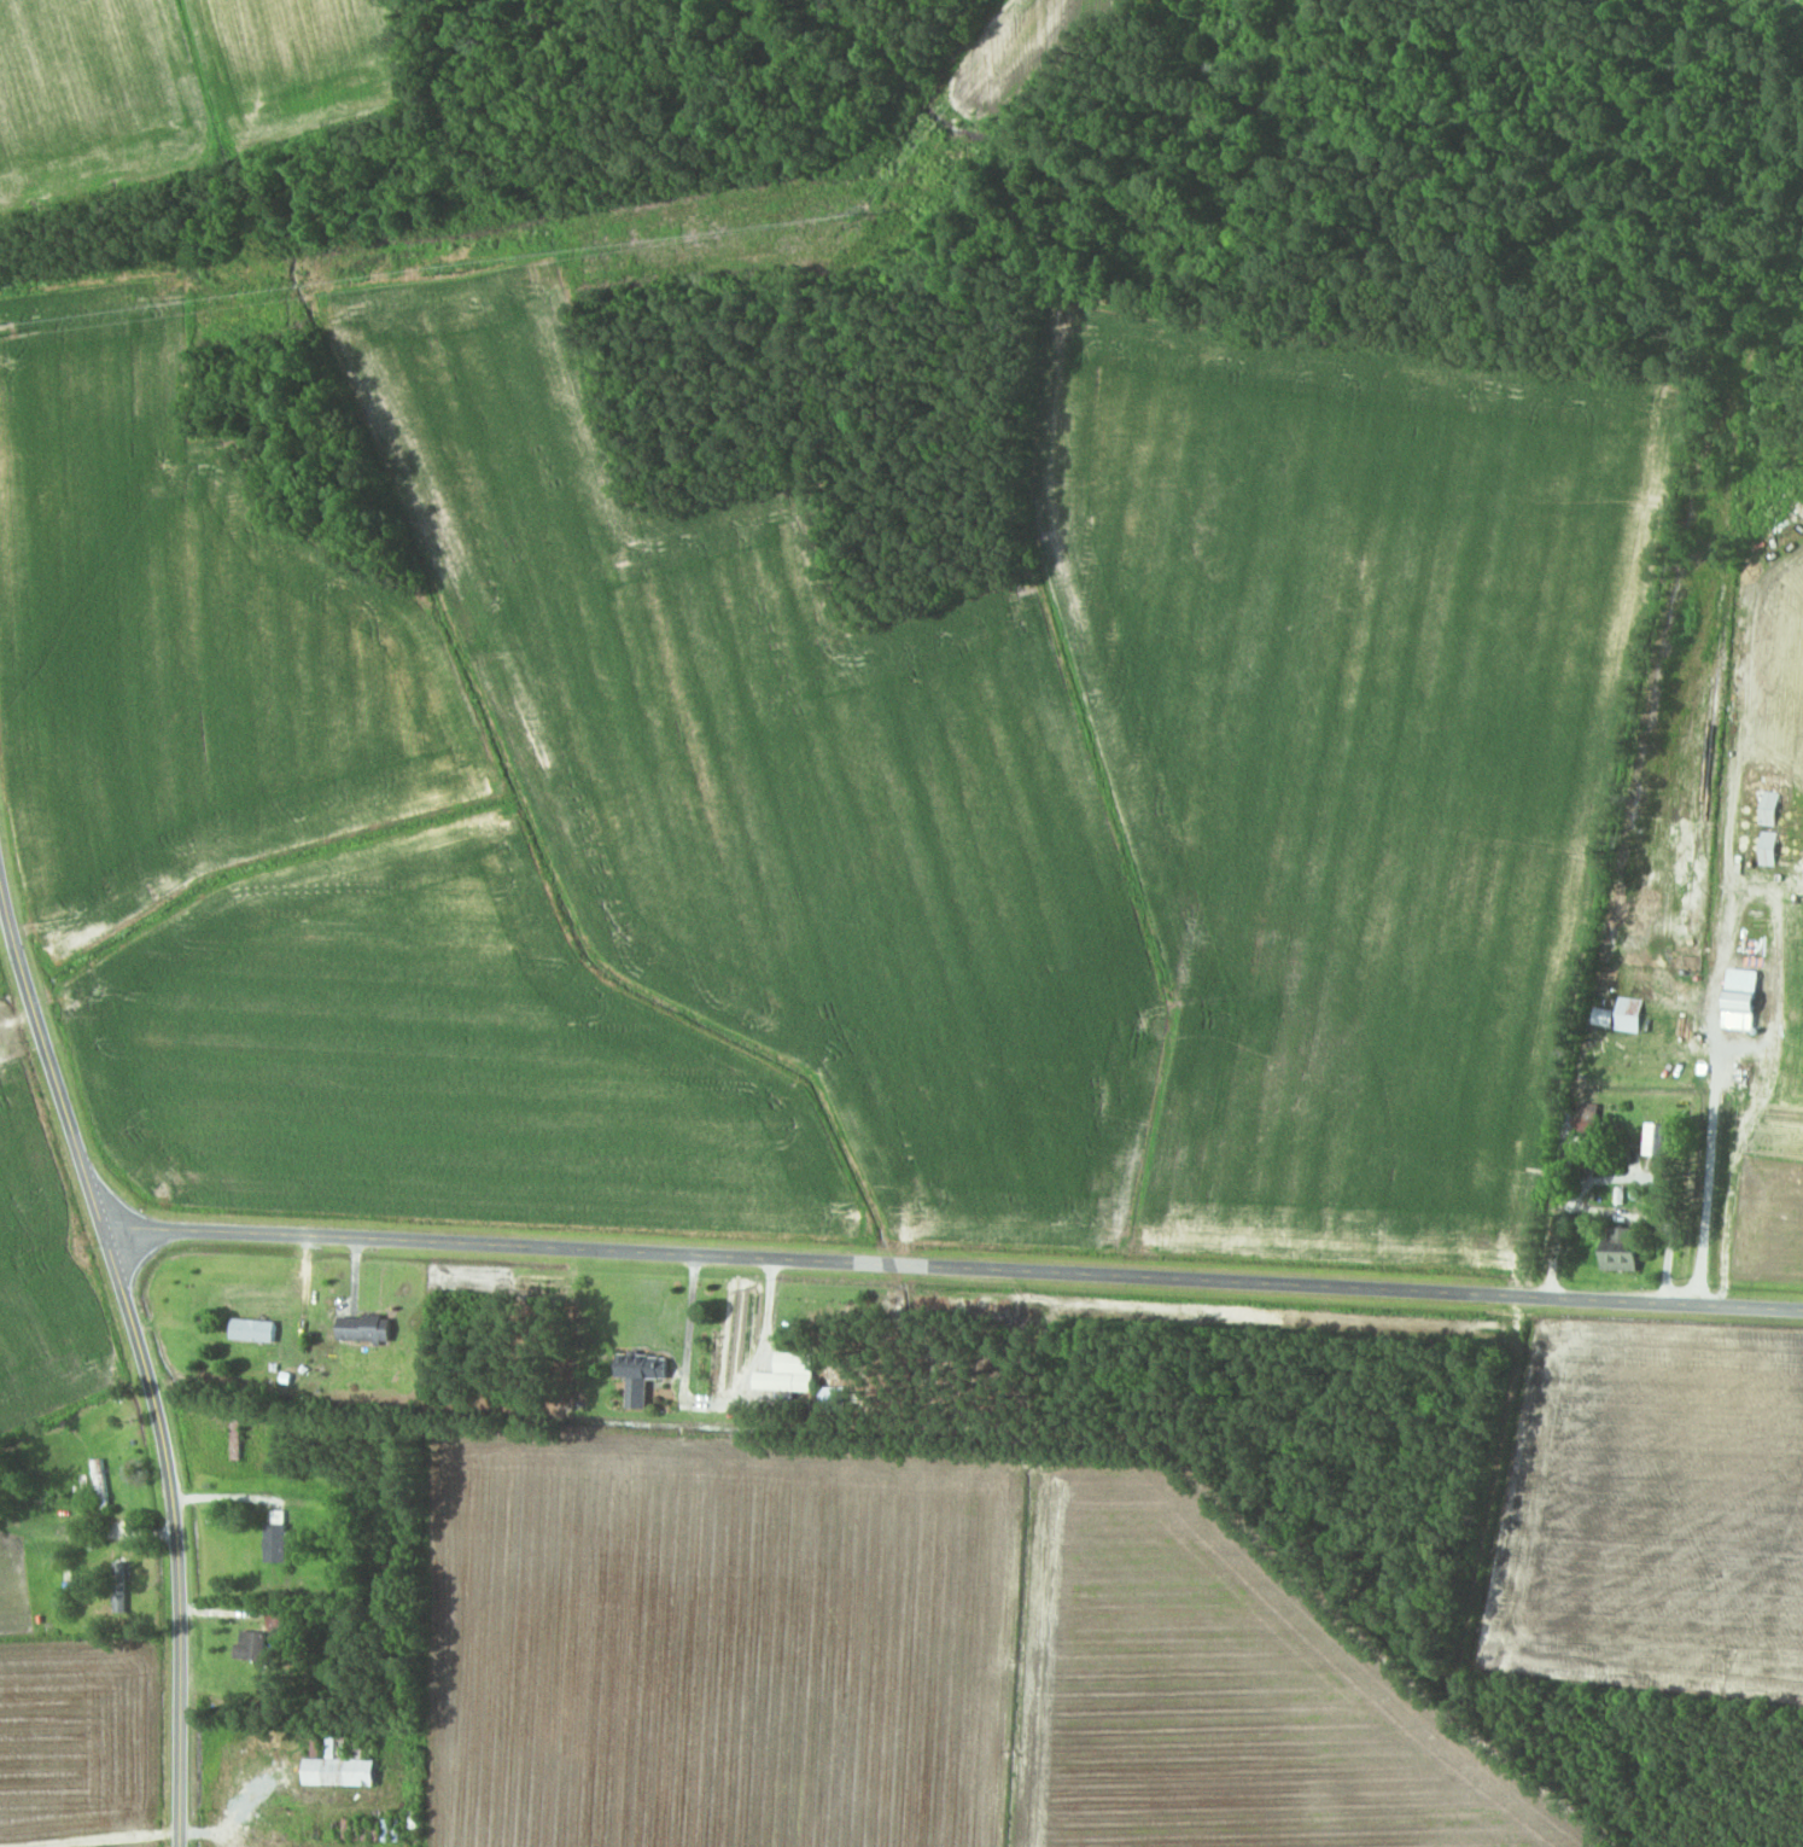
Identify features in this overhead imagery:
power tower: (881, 211)
power tower: (461, 270)
power tower: (2, 334)
building: (1577, 1136)
building: (1657, 1140)
building: (1622, 1249)
road: (953, 1268)
building: (366, 1327)
building: (253, 1330)
road: (142, 1356)
building: (644, 1367)
building: (784, 1381)
building: (833, 1398)
building: (100, 1484)
building: (276, 1537)
building: (119, 1590)
building: (280, 1620)
building: (251, 1645)
building: (337, 1744)
building: (342, 1772)
road: (89, 1834)

